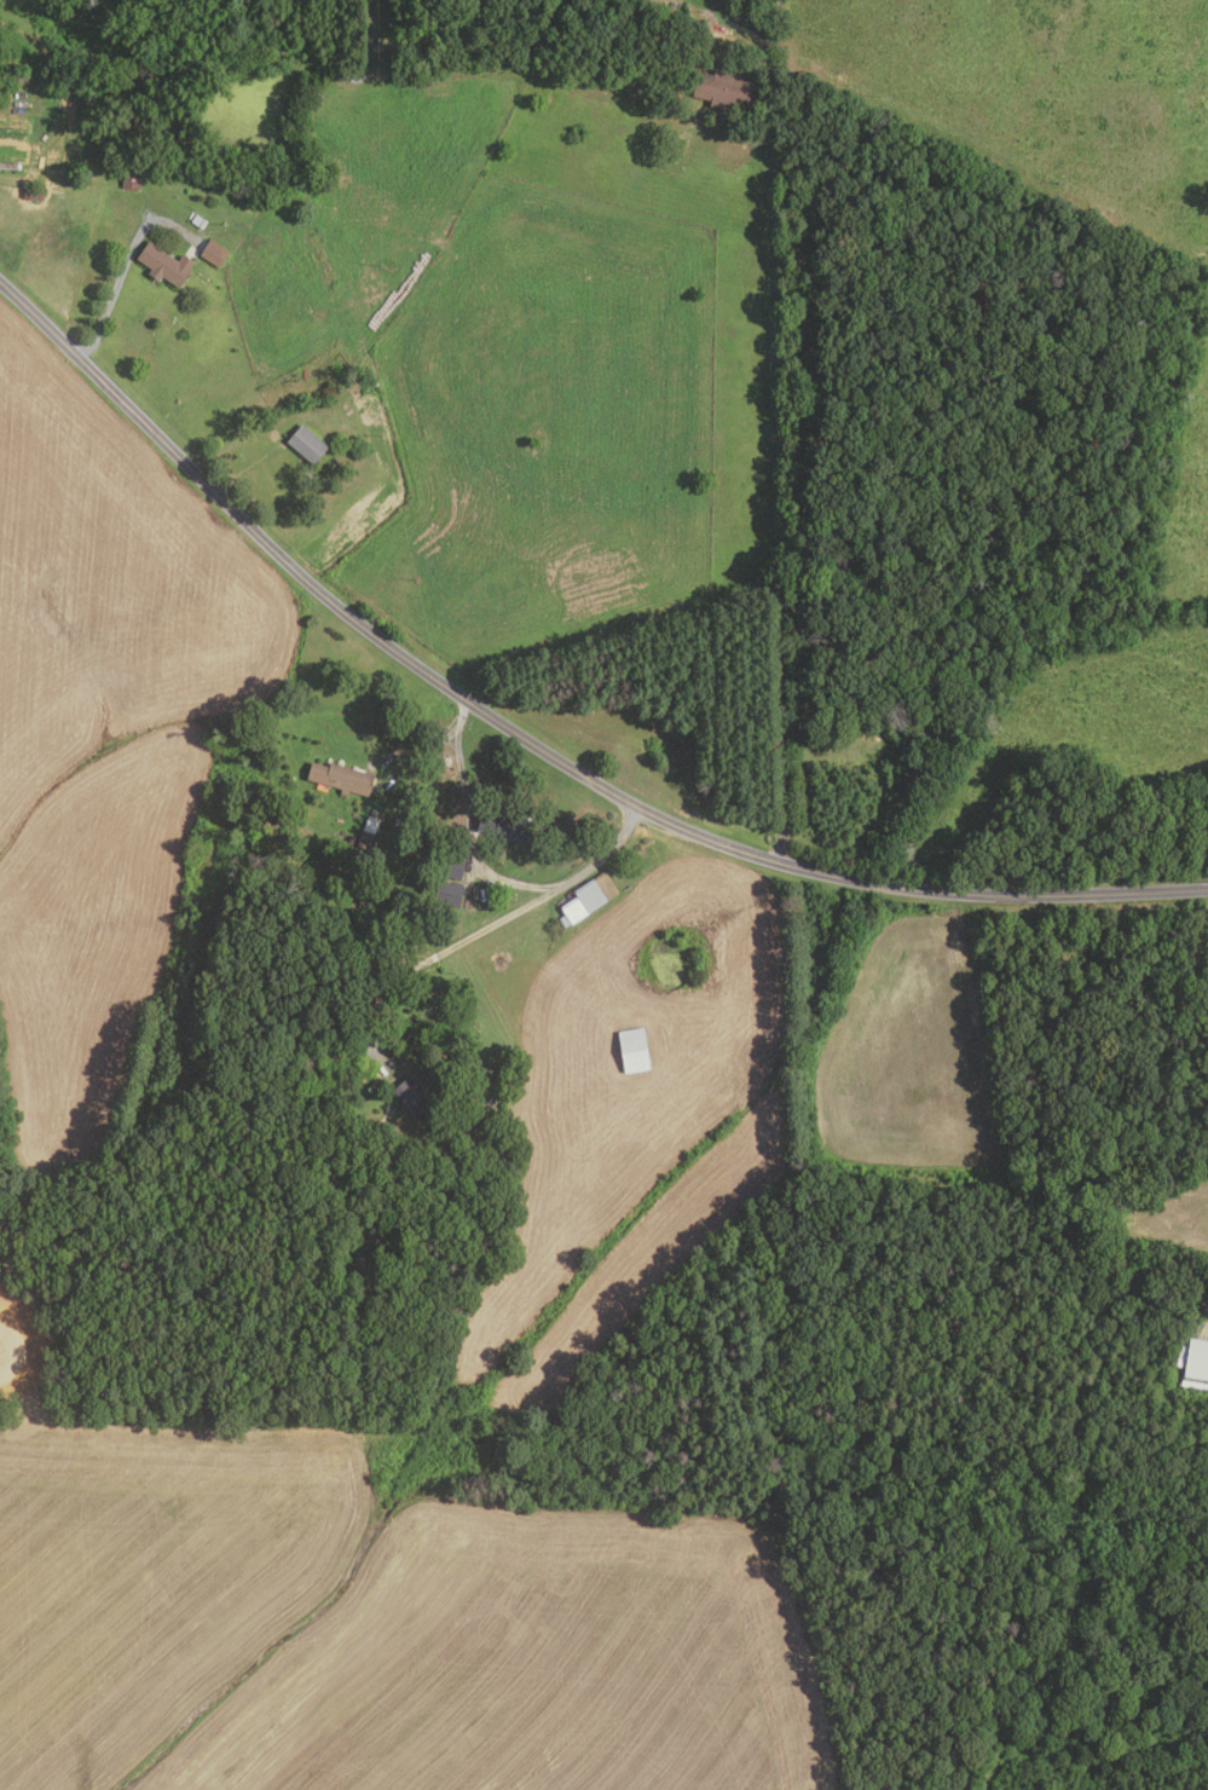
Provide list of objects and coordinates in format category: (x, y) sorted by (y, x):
building: (729, 0)
building: (47, 69)
building: (19, 76)
building: (722, 89)
building: (145, 117)
building: (131, 177)
building: (33, 194)
building: (198, 221)
building: (214, 253)
road: (123, 264)
building: (164, 265)
building: (306, 444)
road: (776, 492)
road: (532, 744)
road: (423, 747)
building: (342, 776)
road: (467, 826)
building: (511, 827)
building: (364, 839)
building: (453, 853)
building: (544, 853)
road: (605, 853)
building: (557, 859)
building: (451, 868)
building: (446, 894)
building: (583, 902)
building: (438, 912)
road: (434, 957)
building: (635, 1050)
building: (414, 1097)
building: (369, 1173)
building: (349, 1179)
building: (1197, 1358)

